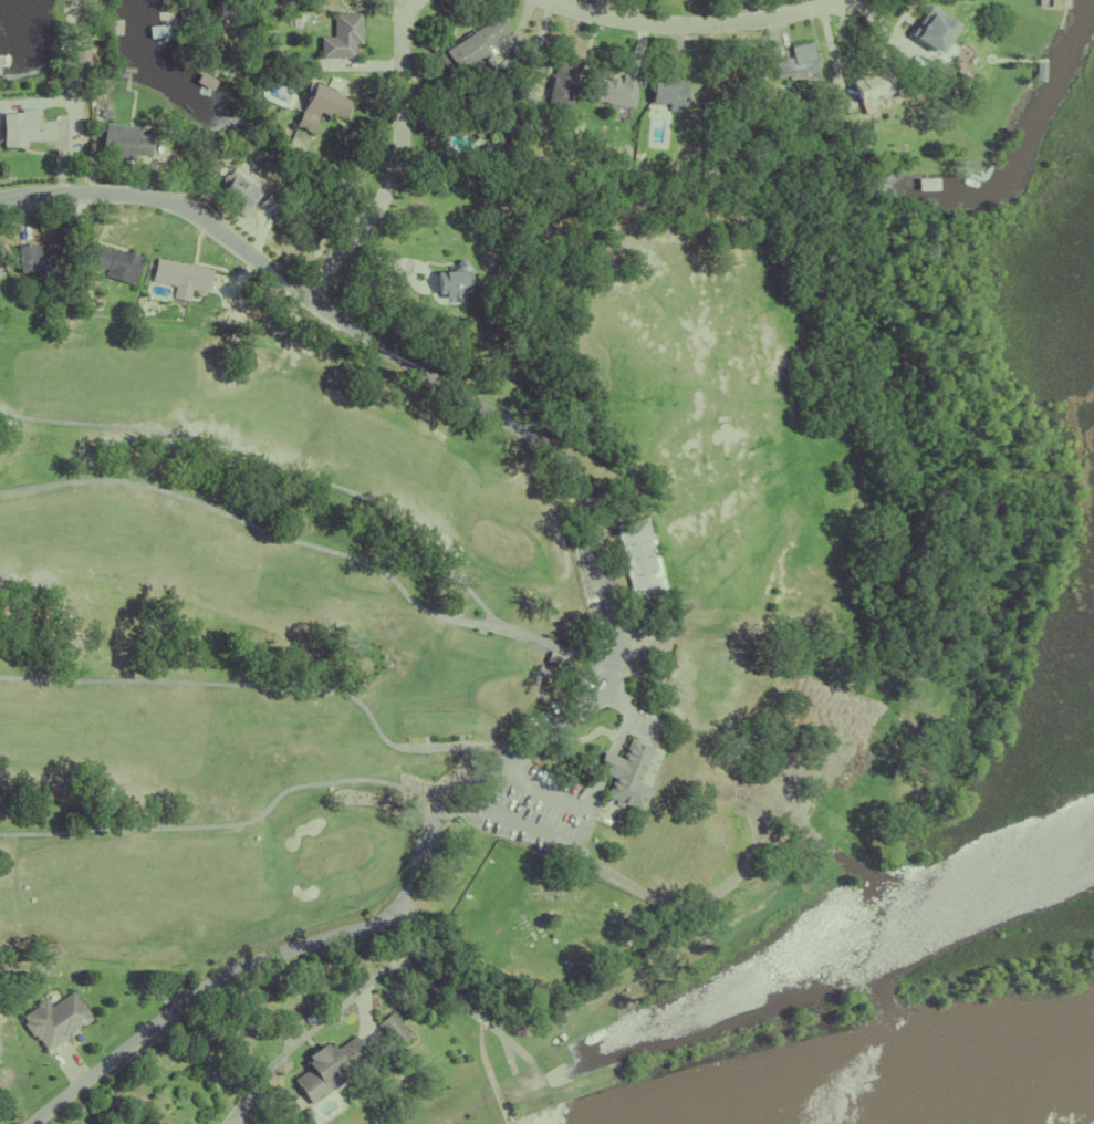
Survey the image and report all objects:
building: (352, 0)
building: (1056, 1)
building: (910, 7)
building: (159, 15)
road: (688, 25)
building: (338, 35)
building: (935, 37)
building: (467, 45)
building: (794, 63)
building: (558, 82)
building: (866, 85)
building: (613, 90)
building: (666, 94)
building: (316, 105)
road: (70, 111)
building: (97, 112)
building: (22, 128)
building: (492, 135)
building: (121, 142)
building: (810, 148)
building: (482, 157)
building: (759, 158)
road: (398, 162)
building: (685, 171)
building: (697, 171)
building: (593, 173)
building: (924, 183)
building: (233, 192)
road: (168, 201)
building: (269, 205)
building: (32, 260)
building: (112, 262)
building: (0, 275)
building: (177, 278)
building: (450, 282)
building: (637, 553)
park: (244, 636)
building: (549, 654)
road: (628, 716)
road: (524, 749)
road: (607, 760)
building: (623, 769)
road: (595, 788)
road: (569, 843)
building: (53, 1020)
building: (388, 1026)
building: (323, 1064)

